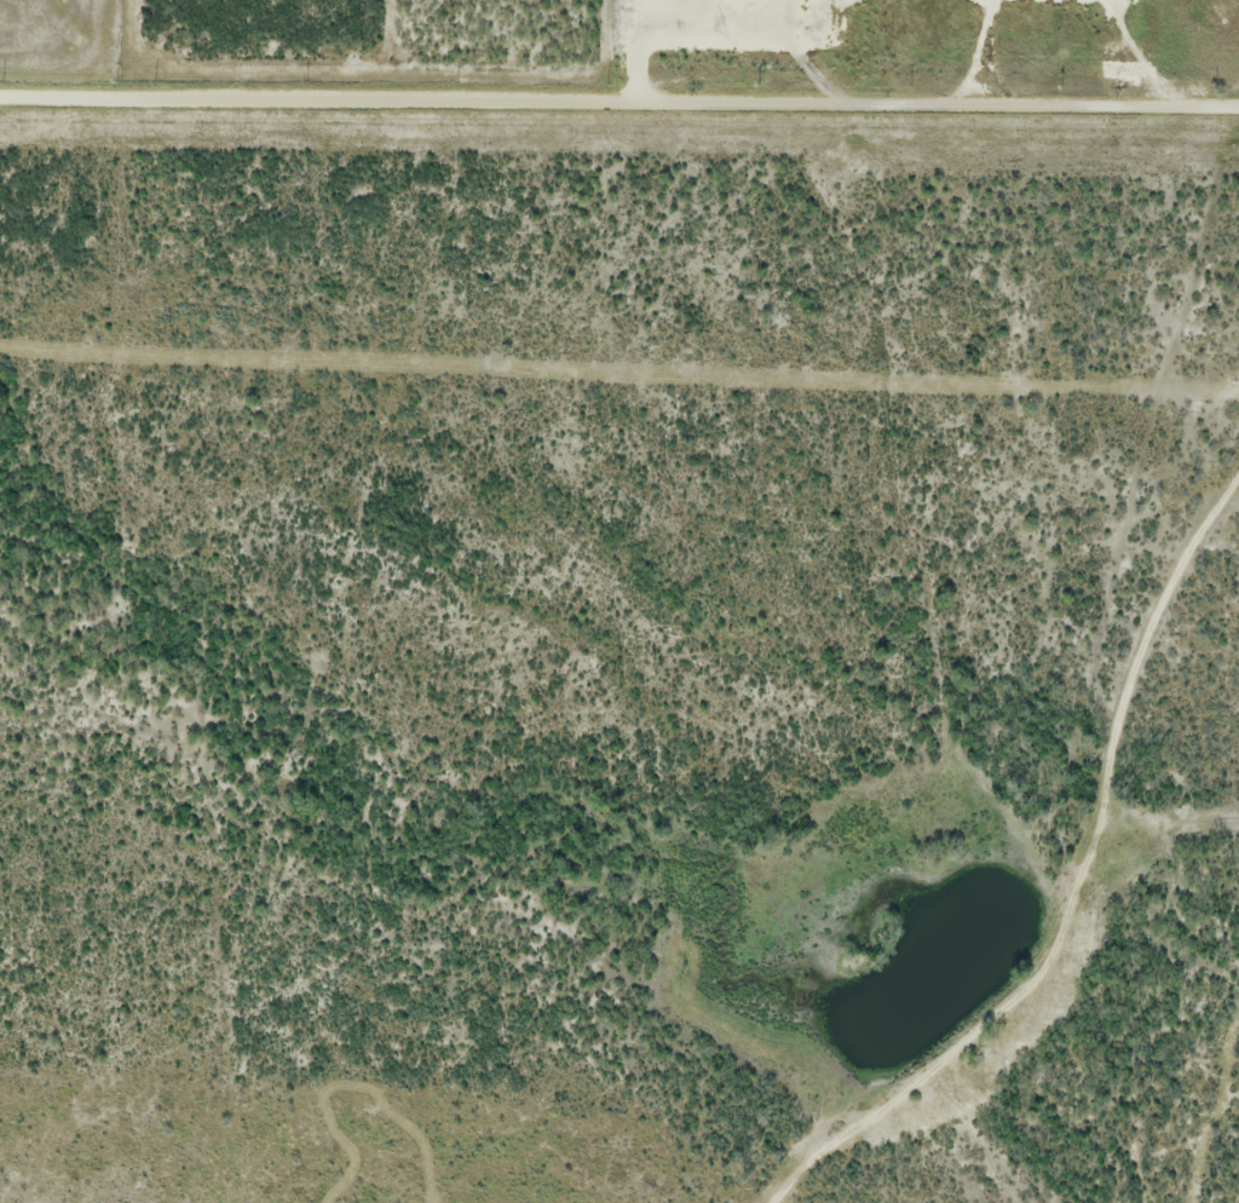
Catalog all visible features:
road: (636, 46)
road: (978, 47)
road: (619, 91)

